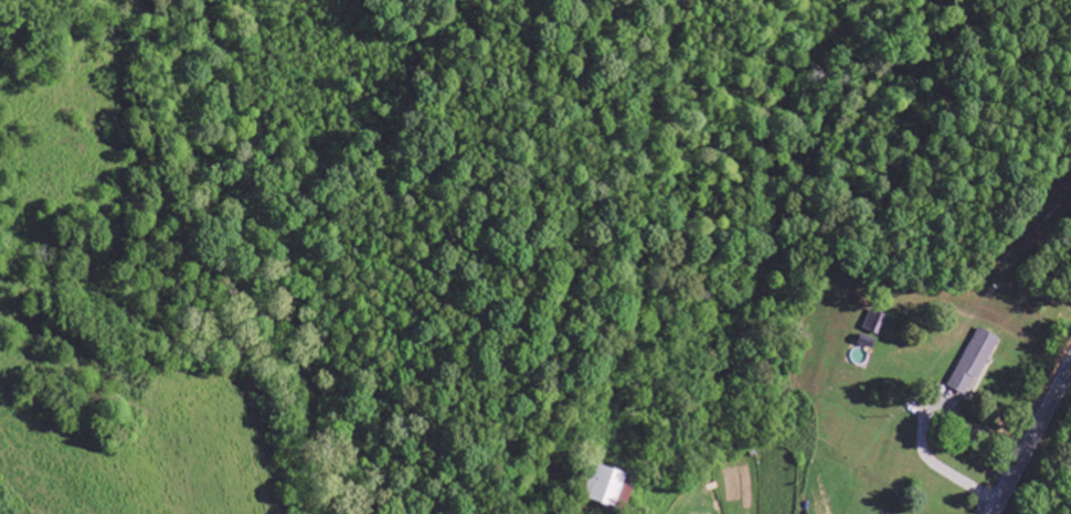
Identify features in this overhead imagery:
building: (877, 322)
building: (868, 342)
building: (975, 362)
road: (1031, 442)
building: (613, 488)

